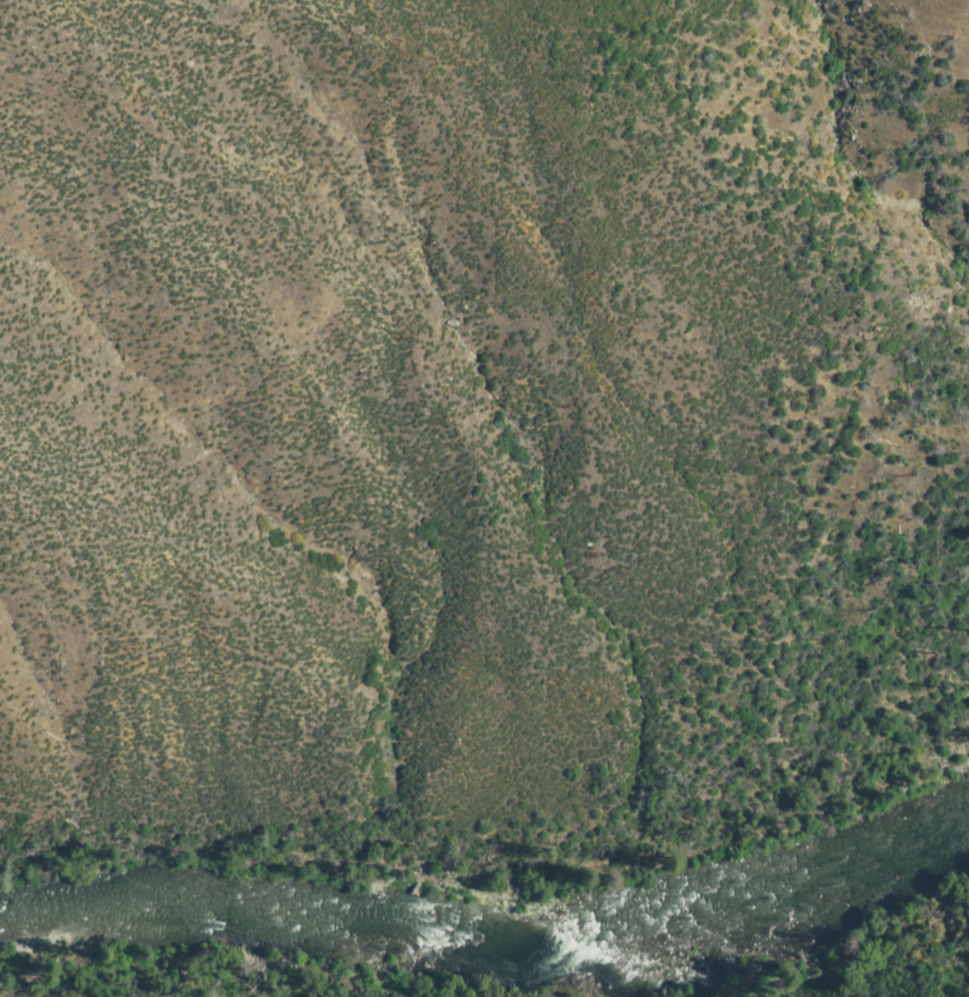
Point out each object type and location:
river: (496, 941)

